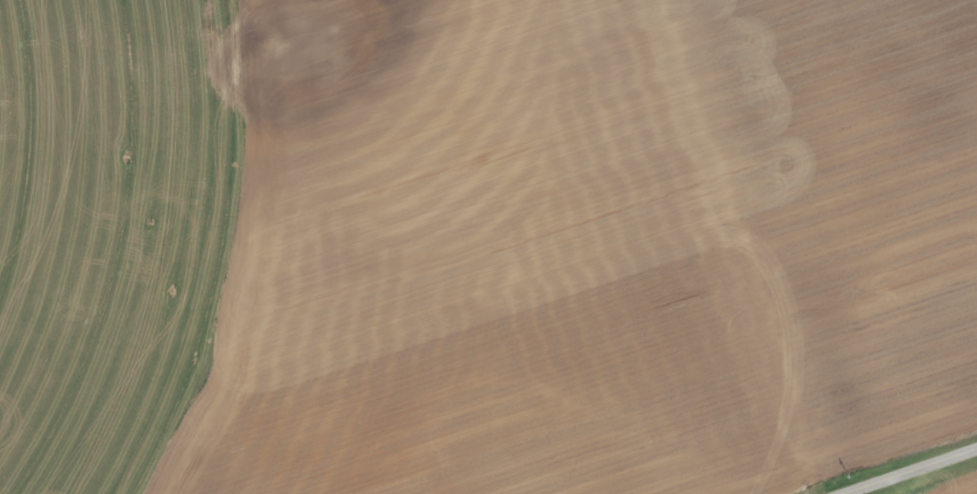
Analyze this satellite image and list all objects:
road: (734, 248)
road: (909, 470)

